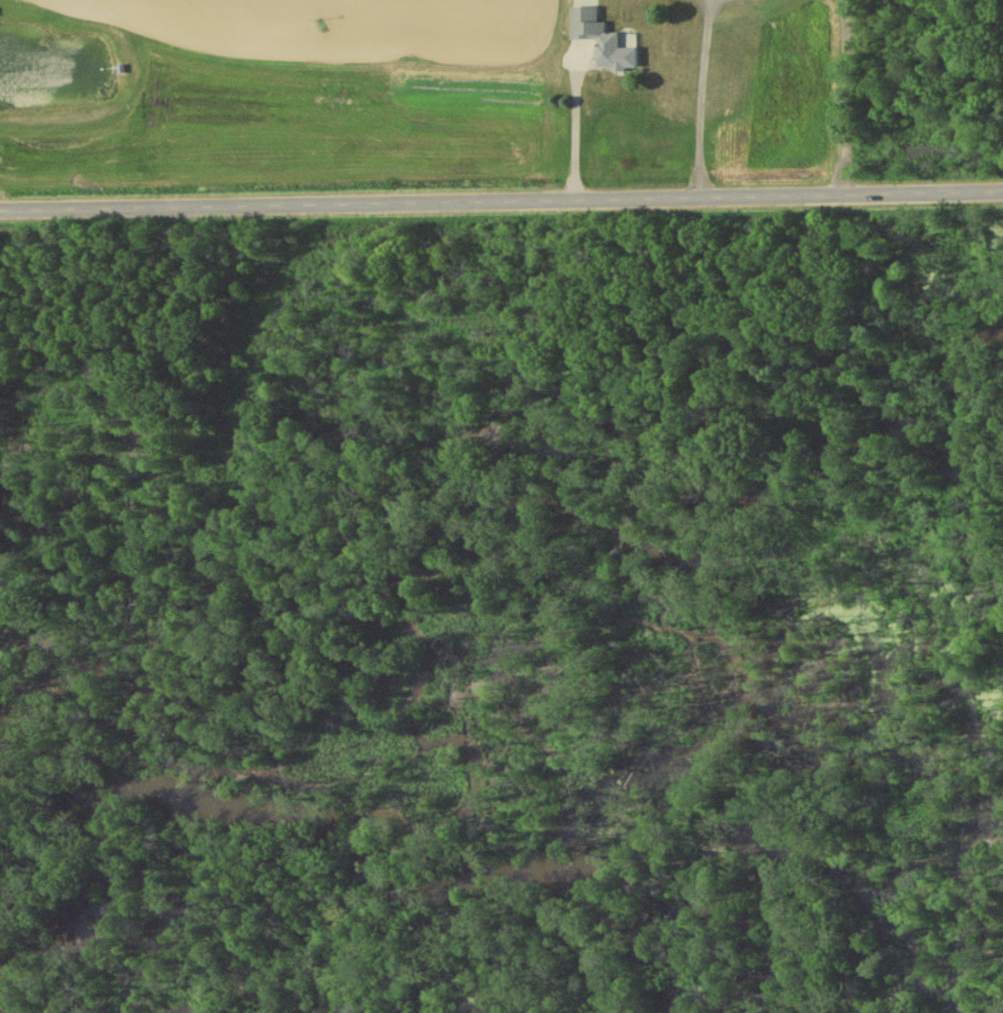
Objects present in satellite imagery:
building: (614, 56)
road: (705, 94)
road: (575, 124)
road: (501, 191)

